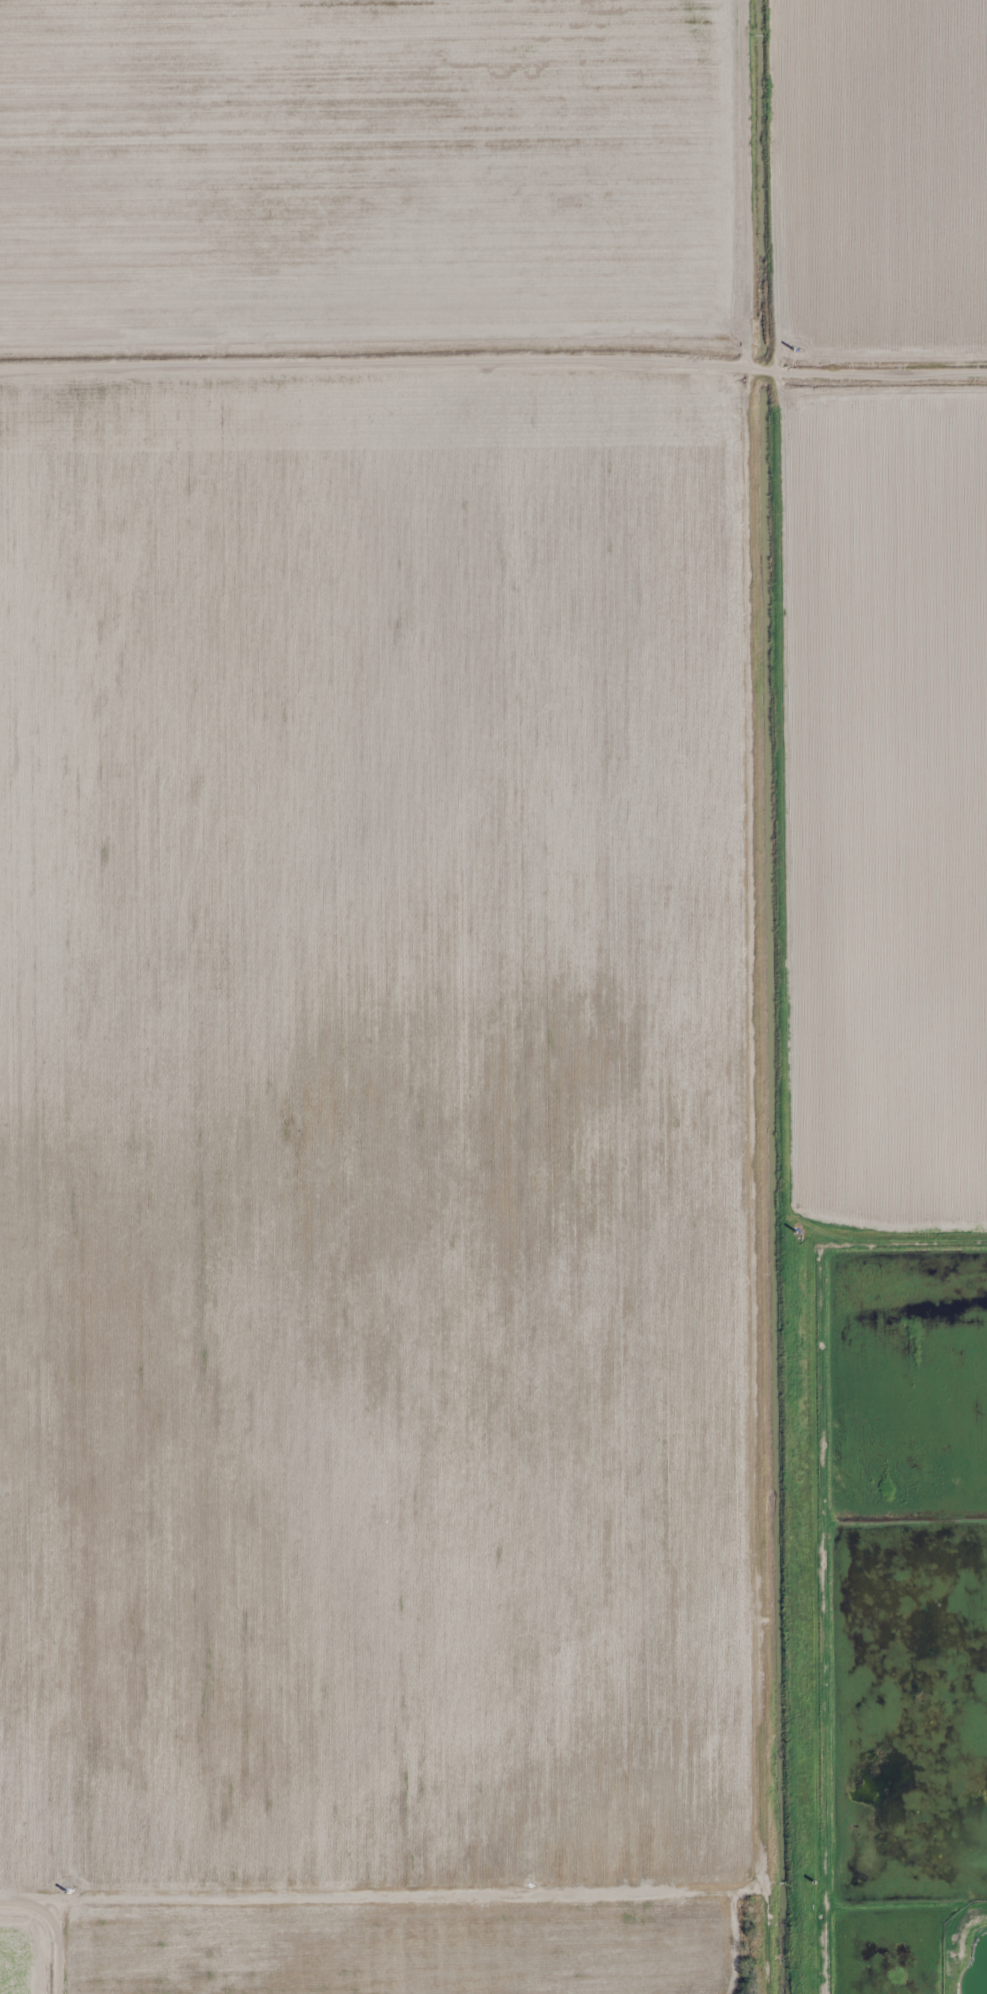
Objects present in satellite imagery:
road: (493, 373)
road: (21, 1906)
road: (57, 1951)

